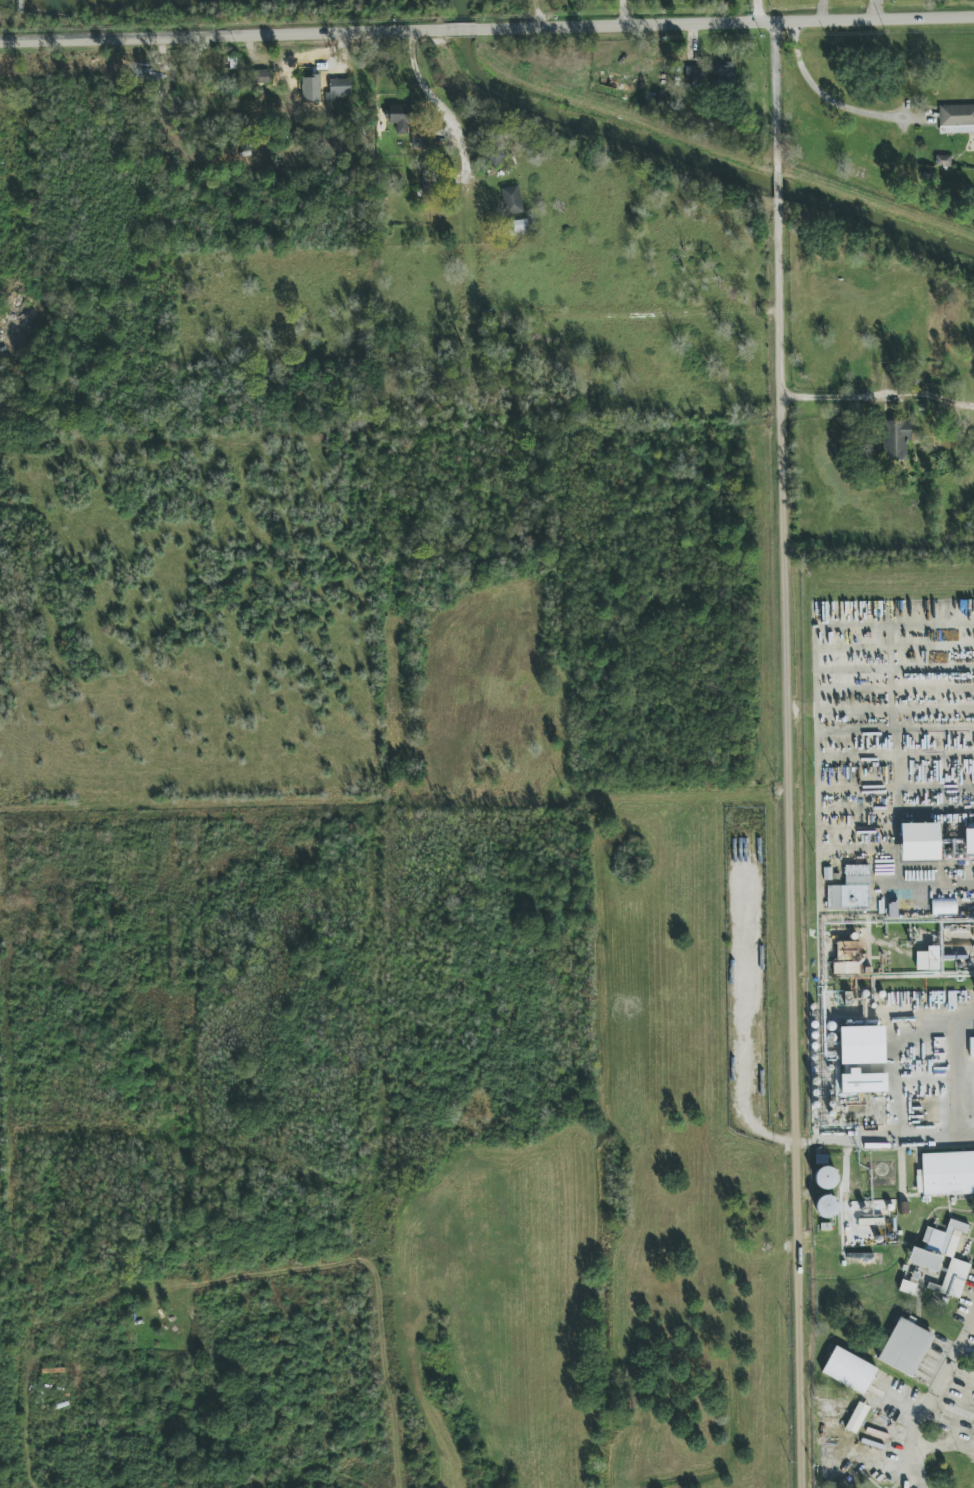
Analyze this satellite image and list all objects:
road: (629, 11)
road: (727, 23)
road: (463, 30)
road: (221, 32)
building: (723, 73)
building: (692, 74)
building: (310, 83)
road: (773, 83)
building: (340, 89)
road: (576, 103)
road: (846, 103)
building: (398, 118)
building: (957, 118)
building: (419, 140)
road: (776, 191)
building: (512, 200)
building: (520, 227)
road: (487, 306)
road: (878, 397)
building: (896, 439)
building: (920, 842)
building: (969, 843)
road: (795, 848)
building: (952, 849)
building: (851, 890)
building: (944, 906)
building: (847, 958)
building: (928, 959)
road: (892, 1040)
building: (862, 1045)
building: (971, 1047)
road: (958, 1081)
building: (862, 1082)
road: (934, 1134)
road: (847, 1135)
building: (946, 1174)
building: (825, 1178)
building: (826, 1206)
building: (937, 1246)
building: (953, 1279)
building: (905, 1347)
building: (849, 1370)
road: (929, 1403)
building: (857, 1417)

